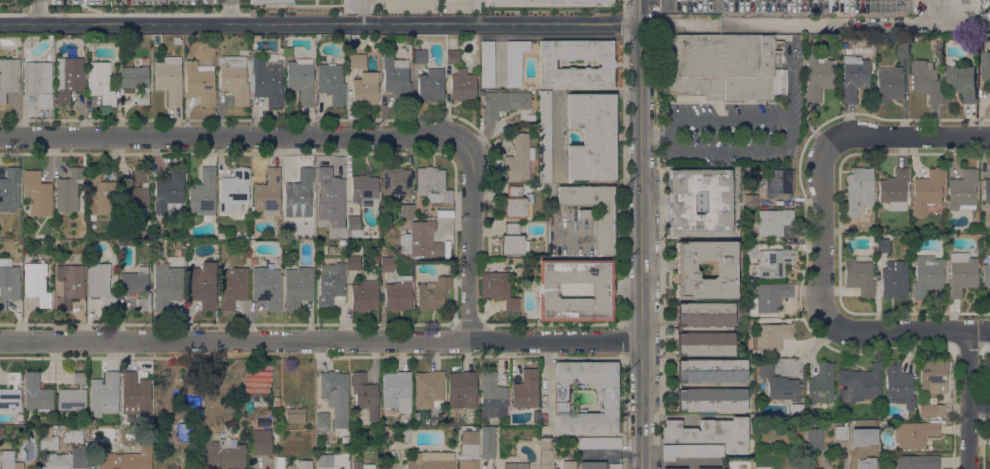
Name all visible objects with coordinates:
building: (506, 1)
building: (586, 1)
building: (270, 2)
road: (638, 11)
road: (38, 12)
road: (230, 12)
road: (363, 12)
parking lot: (842, 13)
road: (976, 21)
road: (870, 22)
road: (675, 23)
road: (319, 24)
building: (156, 40)
building: (177, 40)
building: (26, 42)
building: (980, 43)
building: (844, 45)
building: (902, 49)
building: (848, 51)
building: (252, 54)
building: (419, 56)
building: (452, 57)
building: (356, 61)
building: (514, 61)
building: (547, 63)
building: (487, 64)
building: (721, 66)
building: (985, 66)
building: (817, 72)
building: (396, 76)
building: (8, 77)
building: (854, 77)
building: (68, 78)
building: (234, 78)
building: (136, 79)
building: (169, 79)
building: (268, 80)
building: (301, 80)
building: (925, 80)
building: (38, 81)
building: (100, 82)
building: (200, 82)
building: (331, 82)
building: (961, 82)
building: (889, 84)
building: (430, 85)
building: (462, 85)
building: (364, 89)
building: (503, 103)
road: (749, 120)
road: (231, 135)
building: (545, 136)
building: (591, 136)
road: (908, 139)
road: (736, 150)
building: (518, 158)
building: (395, 181)
building: (779, 183)
building: (432, 184)
building: (893, 186)
building: (9, 190)
building: (68, 190)
building: (169, 190)
building: (299, 190)
building: (364, 190)
building: (986, 190)
building: (234, 191)
building: (330, 191)
building: (858, 191)
building: (926, 191)
building: (962, 191)
building: (203, 192)
building: (136, 193)
building: (267, 193)
building: (36, 194)
building: (100, 195)
building: (750, 200)
building: (699, 202)
building: (516, 203)
building: (765, 204)
building: (407, 210)
building: (593, 212)
building: (773, 221)
building: (353, 224)
building: (152, 233)
building: (343, 235)
road: (827, 235)
building: (421, 240)
road: (470, 240)
building: (512, 240)
building: (343, 242)
building: (881, 244)
road: (640, 245)
building: (749, 250)
building: (862, 252)
building: (182, 253)
building: (215, 256)
building: (253, 261)
building: (385, 261)
building: (354, 263)
building: (771, 263)
building: (685, 267)
building: (961, 274)
building: (926, 275)
building: (986, 275)
building: (858, 277)
building: (893, 279)
building: (8, 282)
building: (36, 283)
building: (100, 284)
building: (330, 284)
building: (68, 285)
building: (167, 285)
building: (497, 285)
building: (137, 286)
building: (202, 287)
building: (232, 287)
building: (266, 287)
building: (297, 287)
building: (602, 289)
building: (398, 294)
building: (432, 294)
building: (364, 295)
building: (769, 297)
building: (705, 314)
road: (908, 331)
building: (770, 336)
road: (234, 340)
road: (554, 340)
building: (704, 344)
building: (711, 370)
building: (933, 376)
building: (257, 381)
building: (862, 383)
building: (820, 384)
building: (778, 385)
building: (898, 385)
building: (989, 385)
building: (428, 389)
building: (461, 389)
building: (526, 389)
building: (396, 391)
building: (136, 392)
building: (10, 393)
building: (36, 393)
building: (103, 394)
building: (492, 394)
building: (72, 395)
building: (335, 395)
building: (365, 395)
building: (711, 399)
building: (609, 400)
road: (970, 400)
building: (276, 401)
building: (930, 410)
building: (989, 414)
building: (294, 416)
building: (468, 419)
building: (321, 421)
building: (479, 423)
building: (9, 429)
building: (383, 429)
building: (528, 430)
building: (1, 431)
building: (841, 432)
building: (989, 432)
building: (72, 433)
building: (709, 433)
building: (915, 433)
building: (814, 439)
building: (261, 442)
building: (487, 442)
building: (598, 442)
building: (469, 448)
building: (706, 450)
building: (675, 451)
building: (219, 454)
building: (76, 457)
building: (545, 457)
building: (126, 459)
building: (324, 460)
building: (9, 461)
building: (57, 461)
building: (431, 461)
building: (280, 462)
building: (917, 462)
road: (680, 463)
building: (866, 463)
building: (304, 464)
building: (361, 465)
building: (568, 465)
building: (591, 465)
building: (546, 466)
building: (614, 466)
building: (519, 467)
building: (673, 468)
building: (707, 468)

